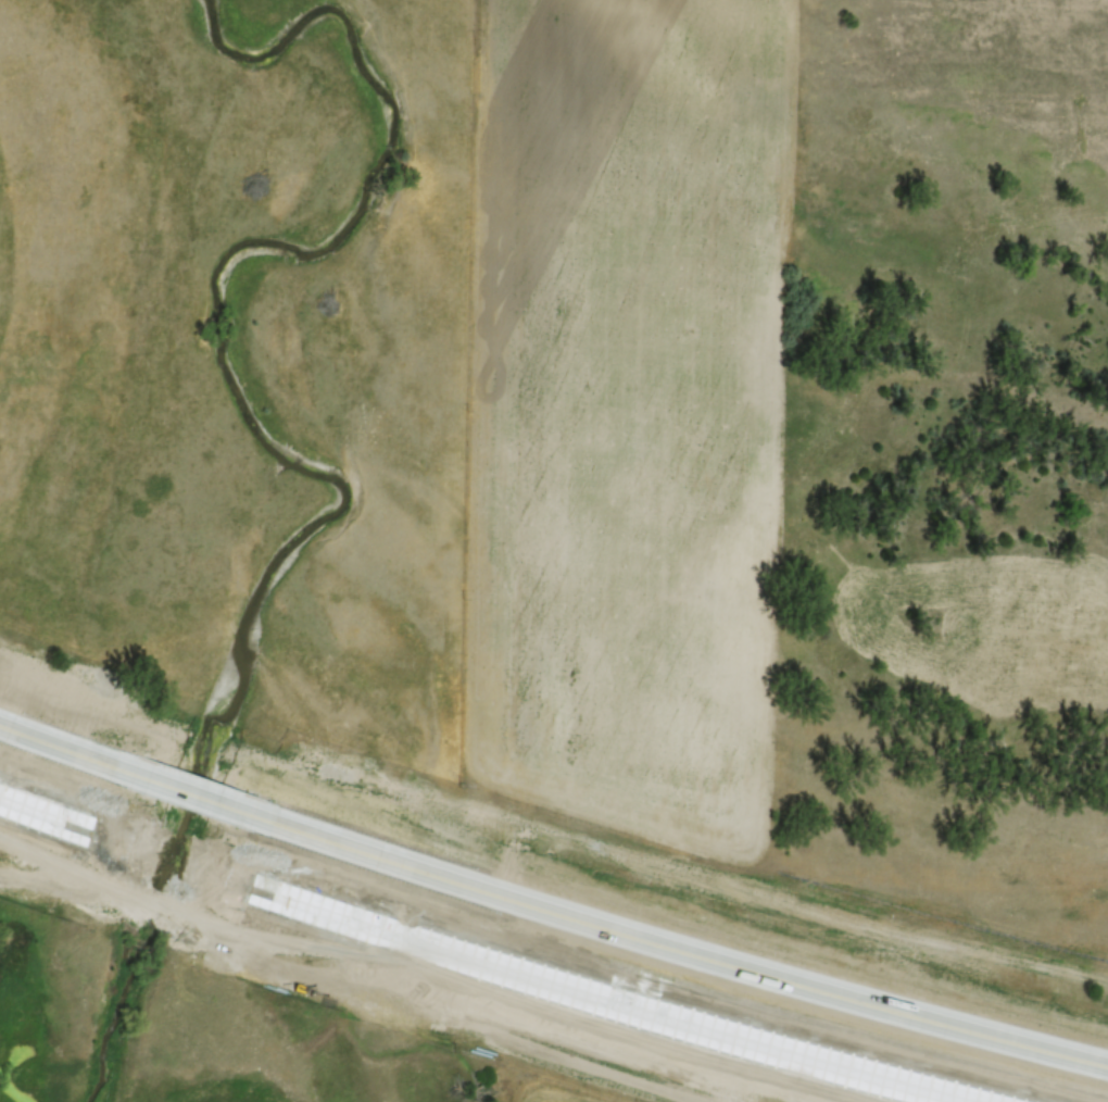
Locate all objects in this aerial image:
crop: (614, 410)
road: (73, 754)
road: (192, 797)
road: (61, 818)
road: (171, 857)
road: (670, 949)
road: (599, 995)
crop: (555, 1094)

